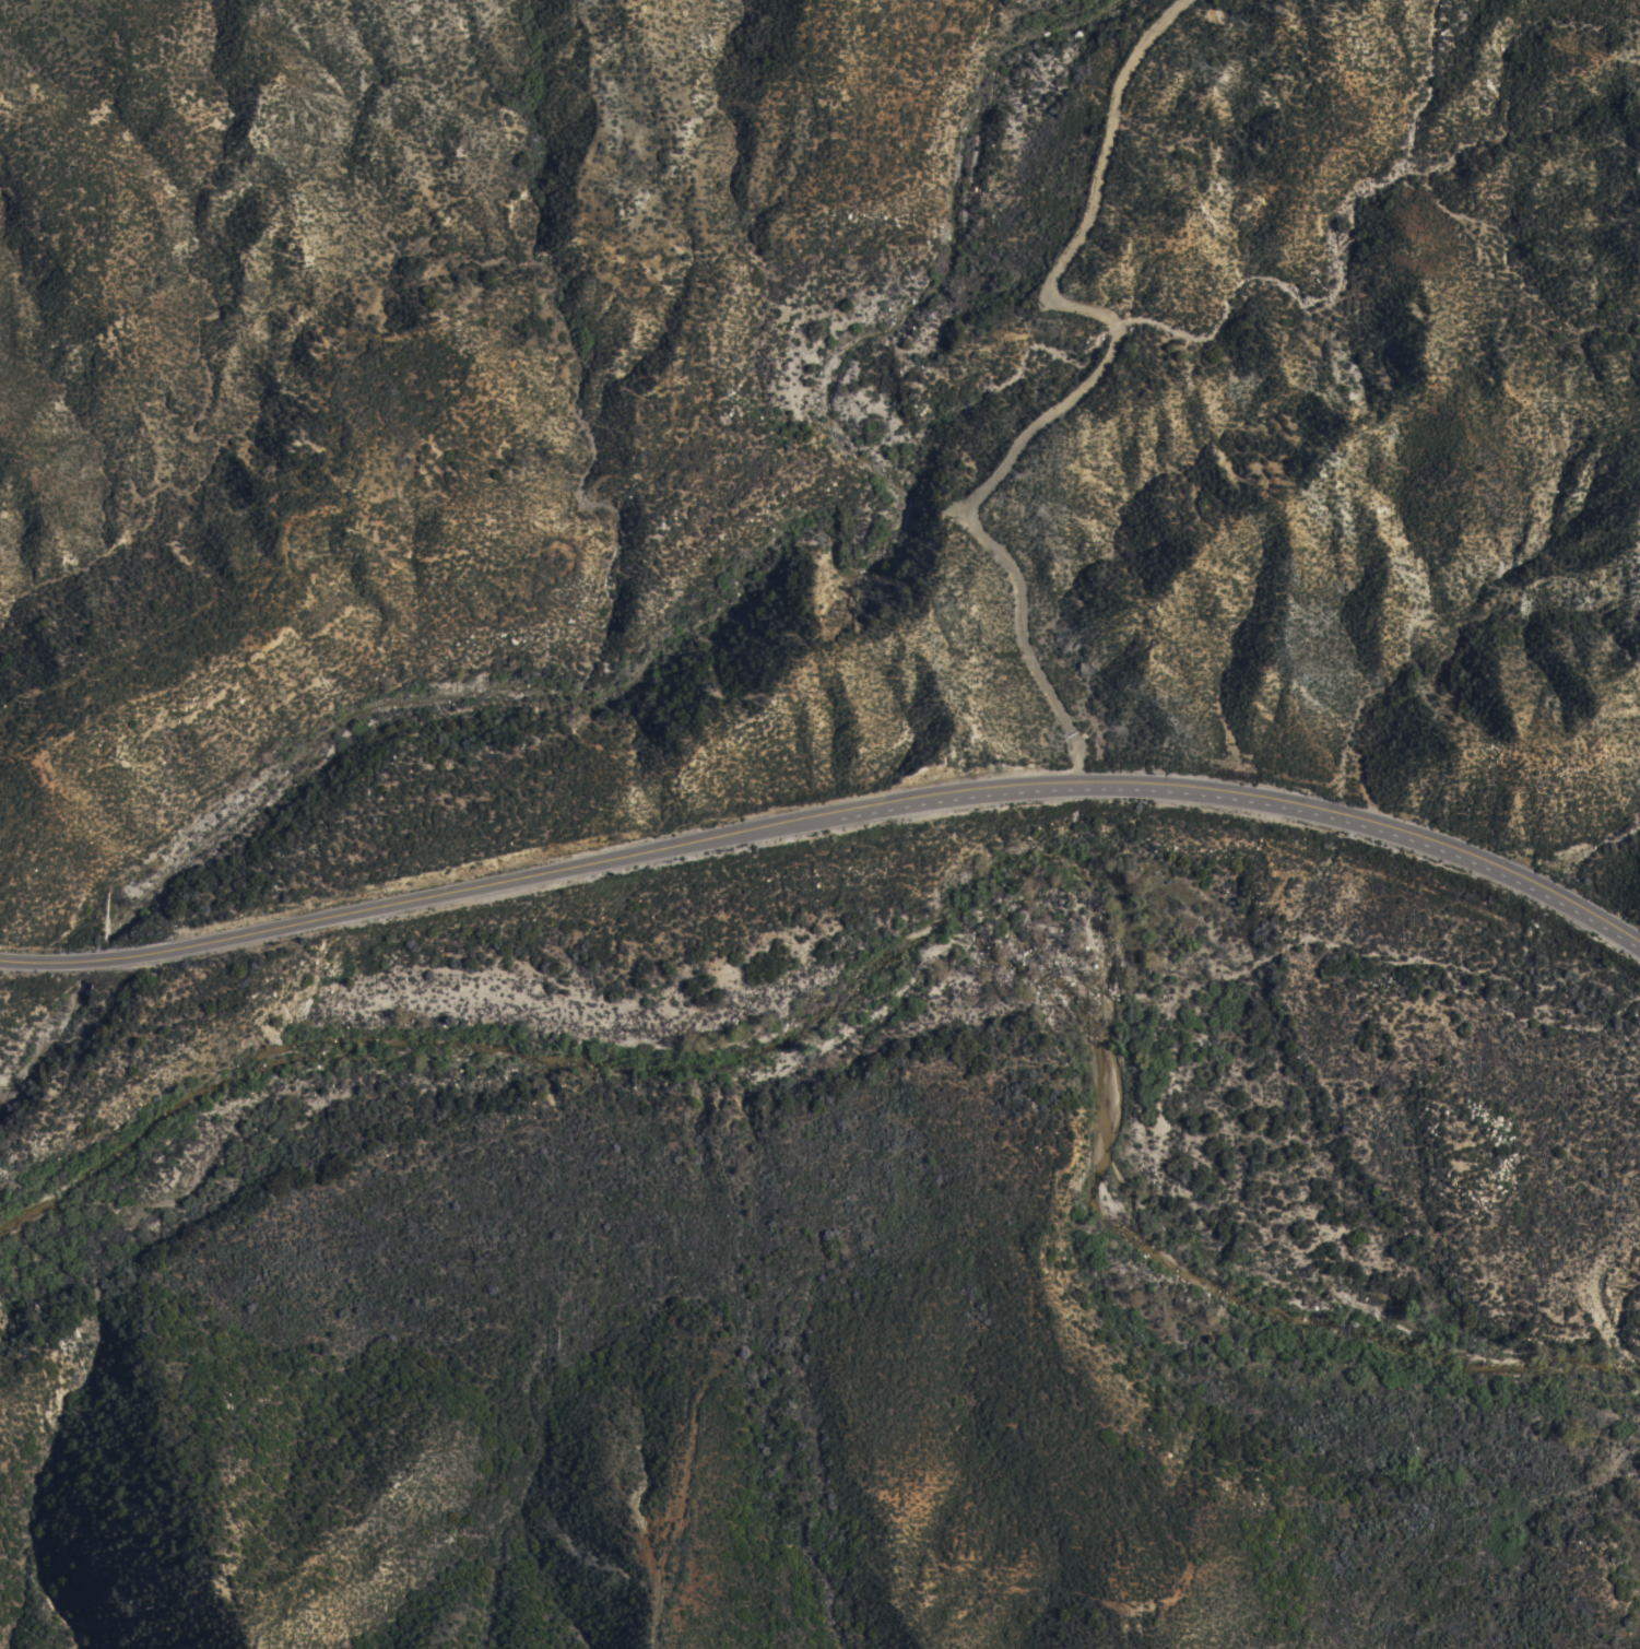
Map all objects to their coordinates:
road: (1078, 384)
road: (829, 813)
river: (934, 934)

